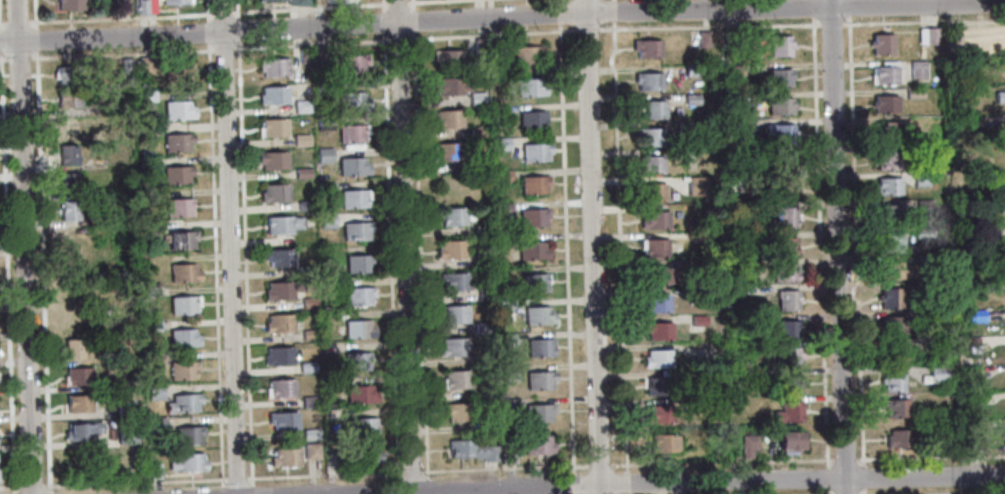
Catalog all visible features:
building: (269, 0)
road: (560, 0)
road: (613, 0)
road: (429, 1)
building: (175, 2)
building: (291, 2)
building: (302, 2)
building: (318, 2)
road: (399, 2)
building: (70, 4)
road: (413, 4)
building: (121, 6)
building: (150, 6)
road: (382, 6)
building: (142, 7)
road: (311, 7)
road: (235, 9)
road: (813, 9)
road: (850, 9)
road: (207, 10)
road: (613, 11)
road: (34, 13)
road: (223, 13)
road: (502, 16)
road: (120, 17)
road: (413, 19)
road: (925, 21)
road: (17, 22)
road: (2, 23)
road: (383, 23)
road: (832, 23)
road: (586, 28)
road: (709, 28)
road: (236, 30)
road: (208, 32)
building: (931, 36)
building: (731, 38)
road: (36, 39)
road: (0, 40)
road: (403, 40)
building: (704, 40)
building: (494, 43)
building: (882, 45)
building: (1001, 45)
building: (479, 46)
building: (780, 47)
building: (647, 48)
road: (223, 49)
road: (121, 53)
building: (319, 54)
building: (304, 55)
street lamp: (3, 57)
road: (18, 57)
building: (524, 57)
road: (3, 59)
building: (448, 59)
building: (352, 64)
building: (125, 66)
building: (146, 66)
building: (273, 67)
building: (917, 69)
building: (692, 71)
building: (177, 72)
building: (733, 72)
building: (66, 75)
building: (885, 75)
building: (778, 77)
building: (497, 78)
building: (648, 81)
building: (448, 85)
building: (322, 87)
building: (529, 88)
building: (914, 93)
building: (146, 96)
building: (273, 96)
building: (1000, 97)
building: (67, 99)
building: (476, 99)
building: (692, 99)
building: (352, 101)
building: (886, 104)
building: (301, 106)
building: (780, 107)
building: (652, 109)
building: (178, 111)
building: (498, 111)
building: (447, 119)
building: (324, 120)
building: (531, 120)
building: (977, 121)
building: (733, 125)
building: (685, 127)
building: (66, 128)
building: (147, 128)
building: (273, 128)
building: (476, 132)
building: (885, 132)
building: (352, 133)
building: (780, 133)
building: (95, 136)
building: (651, 137)
building: (301, 140)
building: (177, 143)
building: (501, 144)
building: (447, 151)
building: (535, 152)
building: (67, 155)
building: (324, 155)
building: (272, 160)
building: (887, 161)
building: (146, 162)
building: (477, 165)
building: (649, 166)
building: (786, 166)
building: (353, 167)
building: (302, 173)
building: (176, 175)
building: (502, 176)
building: (921, 179)
building: (68, 183)
building: (534, 185)
building: (737, 185)
building: (697, 186)
building: (888, 186)
building: (325, 187)
building: (782, 189)
building: (653, 193)
building: (275, 194)
building: (354, 198)
building: (306, 206)
building: (924, 207)
building: (502, 208)
building: (178, 209)
building: (69, 211)
building: (888, 215)
building: (122, 216)
building: (455, 216)
building: (532, 217)
building: (785, 217)
building: (327, 220)
building: (654, 221)
building: (282, 225)
building: (151, 227)
building: (356, 230)
building: (481, 230)
building: (923, 233)
building: (979, 235)
building: (701, 236)
road: (566, 237)
building: (181, 240)
road: (856, 242)
road: (819, 243)
building: (501, 244)
building: (890, 244)
road: (618, 245)
road: (23, 246)
road: (404, 246)
road: (591, 246)
building: (783, 246)
road: (229, 247)
building: (654, 247)
road: (837, 247)
building: (451, 249)
road: (419, 250)
building: (532, 252)
road: (389, 253)
building: (279, 257)
building: (988, 258)
road: (243, 260)
building: (483, 260)
road: (214, 261)
building: (358, 264)
building: (745, 266)
building: (895, 270)
building: (305, 271)
road: (42, 272)
road: (6, 273)
building: (184, 273)
building: (784, 273)
building: (654, 276)
building: (454, 281)
building: (328, 283)
building: (534, 283)
building: (988, 287)
building: (282, 290)
building: (692, 292)
building: (151, 293)
building: (485, 293)
building: (359, 296)
building: (890, 298)
building: (787, 301)
building: (308, 303)
building: (655, 304)
building: (183, 305)
building: (503, 310)
building: (454, 314)
building: (538, 315)
building: (975, 315)
building: (328, 317)
building: (923, 317)
building: (698, 320)
building: (747, 321)
building: (279, 324)
building: (152, 325)
building: (892, 326)
building: (482, 327)
building: (359, 329)
building: (786, 329)
building: (658, 331)
building: (309, 334)
building: (183, 338)
building: (507, 340)
building: (929, 345)
building: (970, 345)
building: (453, 347)
building: (757, 347)
building: (73, 348)
building: (540, 348)
building: (894, 353)
building: (279, 356)
building: (787, 356)
building: (974, 356)
building: (154, 359)
building: (657, 359)
building: (357, 361)
building: (306, 367)
building: (183, 370)
building: (509, 374)
building: (938, 374)
building: (970, 374)
building: (78, 375)
building: (331, 380)
building: (455, 380)
building: (539, 380)
building: (893, 382)
building: (792, 384)
building: (657, 386)
building: (280, 389)
building: (155, 392)
building: (360, 395)
building: (973, 399)
building: (309, 402)
building: (78, 403)
building: (183, 404)
building: (507, 404)
building: (692, 406)
building: (124, 409)
building: (895, 409)
building: (458, 411)
building: (332, 412)
building: (538, 412)
building: (788, 413)
building: (658, 415)
building: (283, 421)
building: (487, 423)
building: (157, 425)
building: (363, 427)
building: (79, 431)
building: (310, 434)
building: (188, 435)
building: (127, 436)
building: (897, 439)
building: (789, 441)
building: (975, 441)
building: (662, 443)
building: (537, 446)
building: (748, 446)
building: (311, 451)
building: (471, 451)
building: (366, 455)
building: (507, 456)
road: (929, 457)
building: (285, 459)
road: (843, 460)
road: (720, 462)
building: (188, 464)
road: (598, 465)
road: (503, 468)
building: (155, 471)
road: (410, 472)
road: (323, 475)
road: (863, 477)
road: (826, 478)
road: (236, 480)
road: (191, 481)
road: (626, 482)
road: (683, 482)
road: (574, 483)
road: (25, 487)
road: (156, 487)
road: (9, 488)
road: (826, 491)
road: (863, 491)
road: (49, 493)
road: (626, 493)
road: (928, 493)

